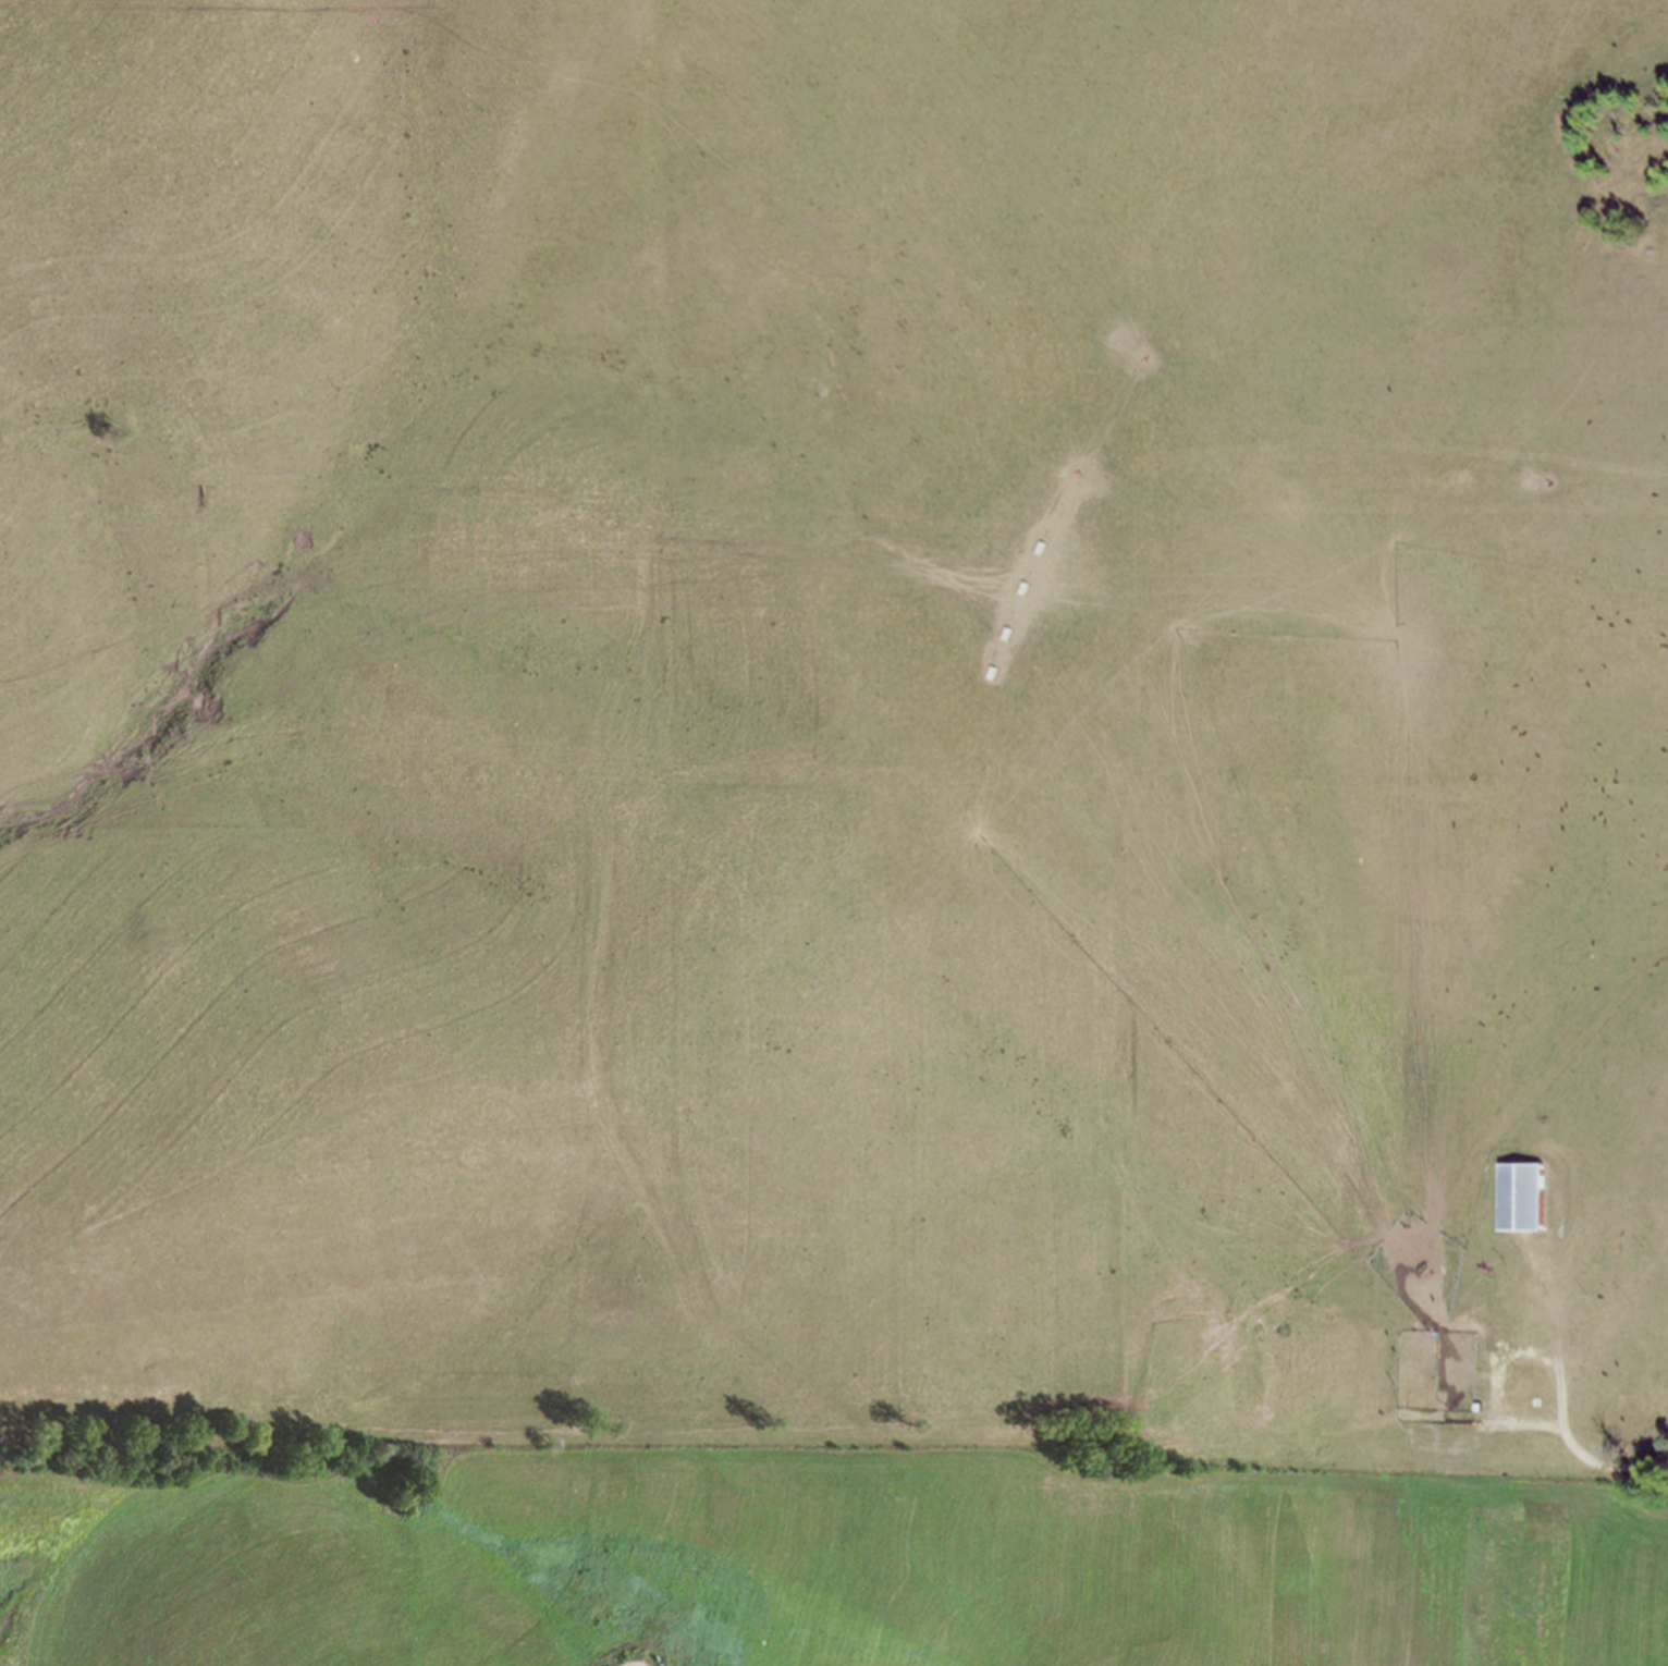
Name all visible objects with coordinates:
building: (1525, 1196)
road: (1585, 1454)

